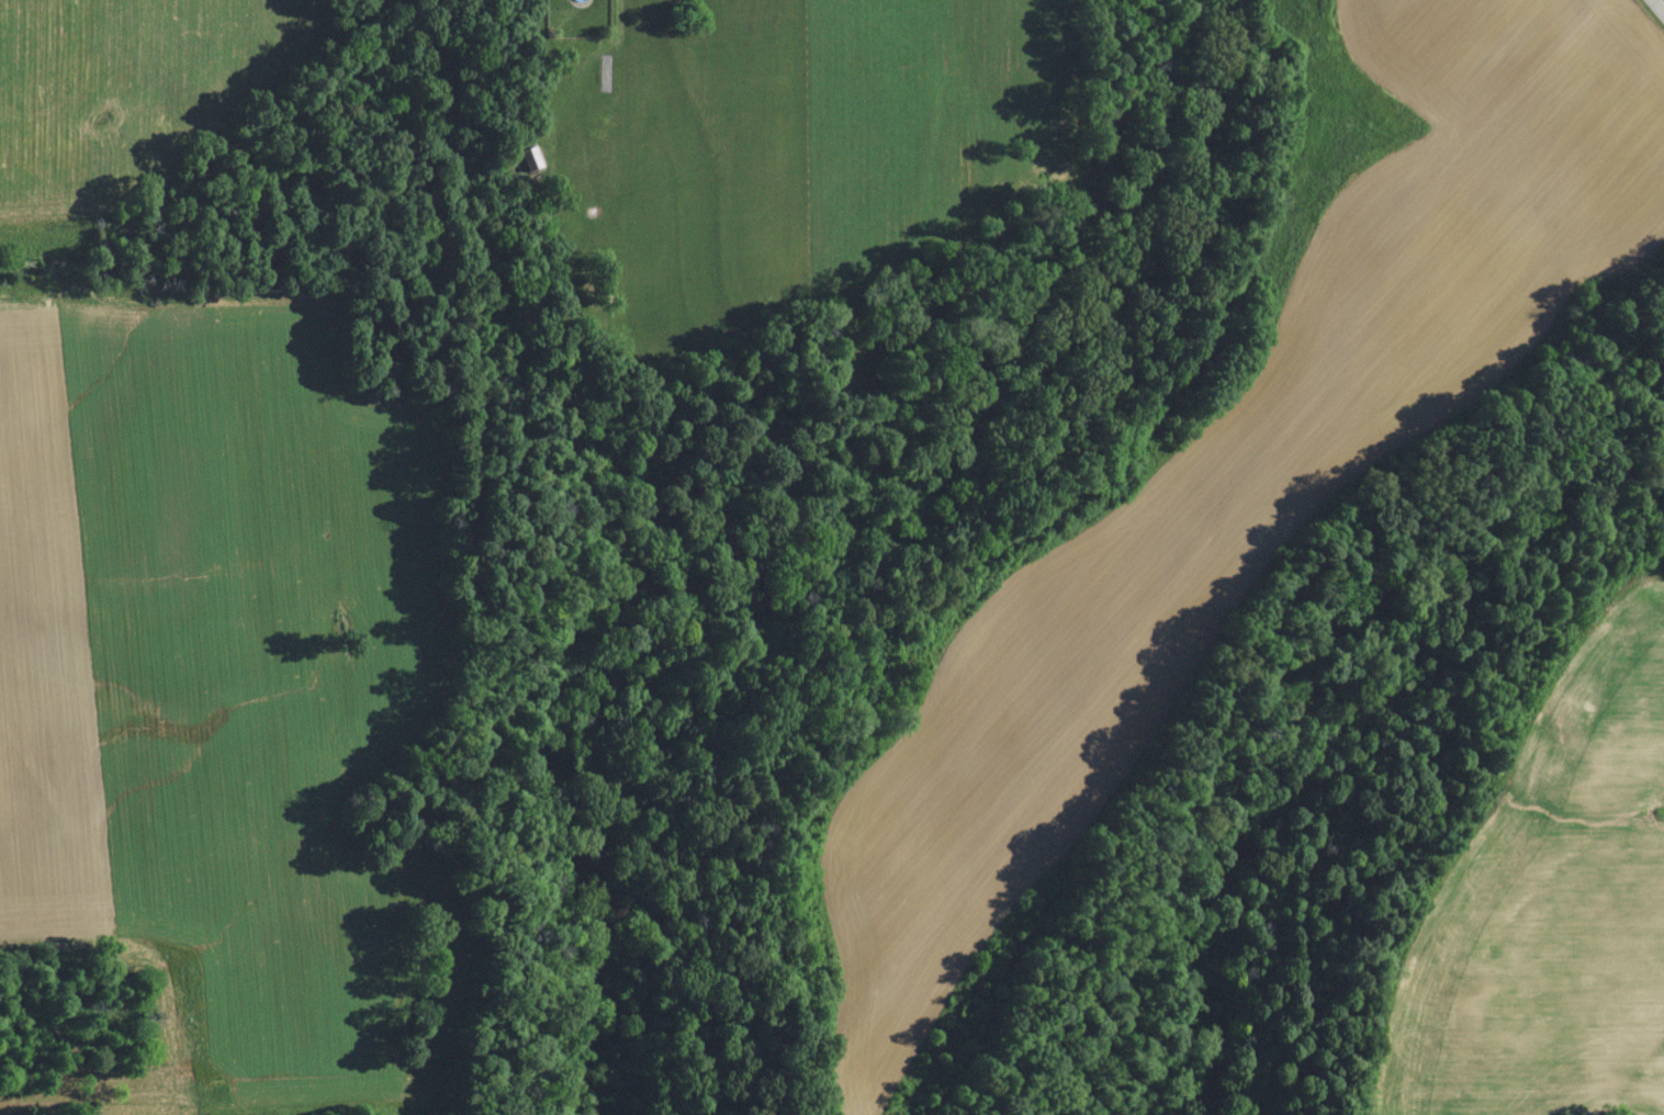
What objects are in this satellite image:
road: (1654, 9)

